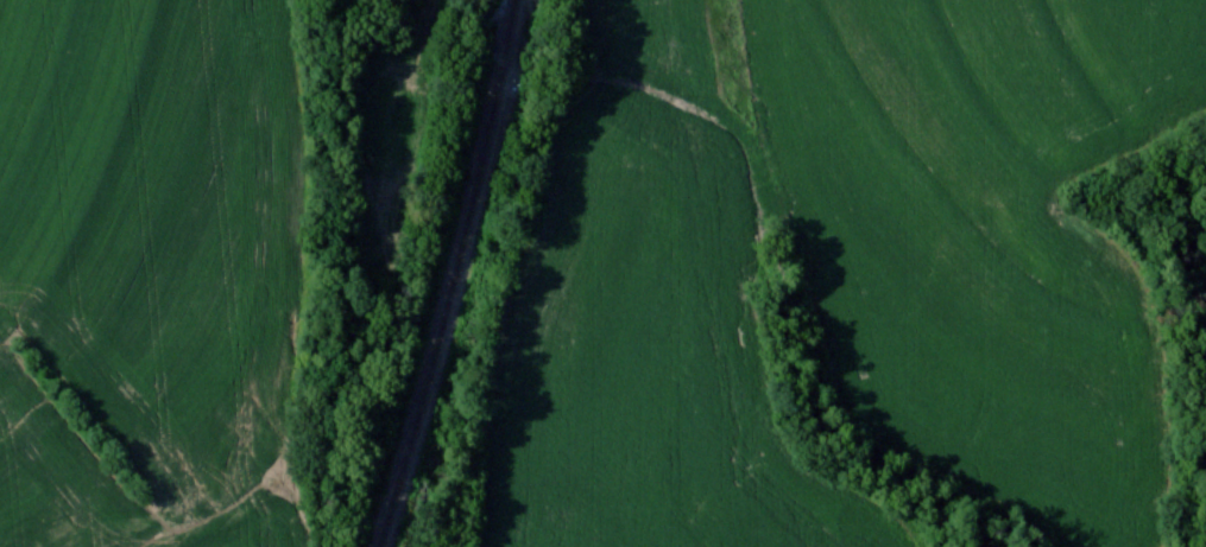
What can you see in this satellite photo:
railway: (454, 275)

